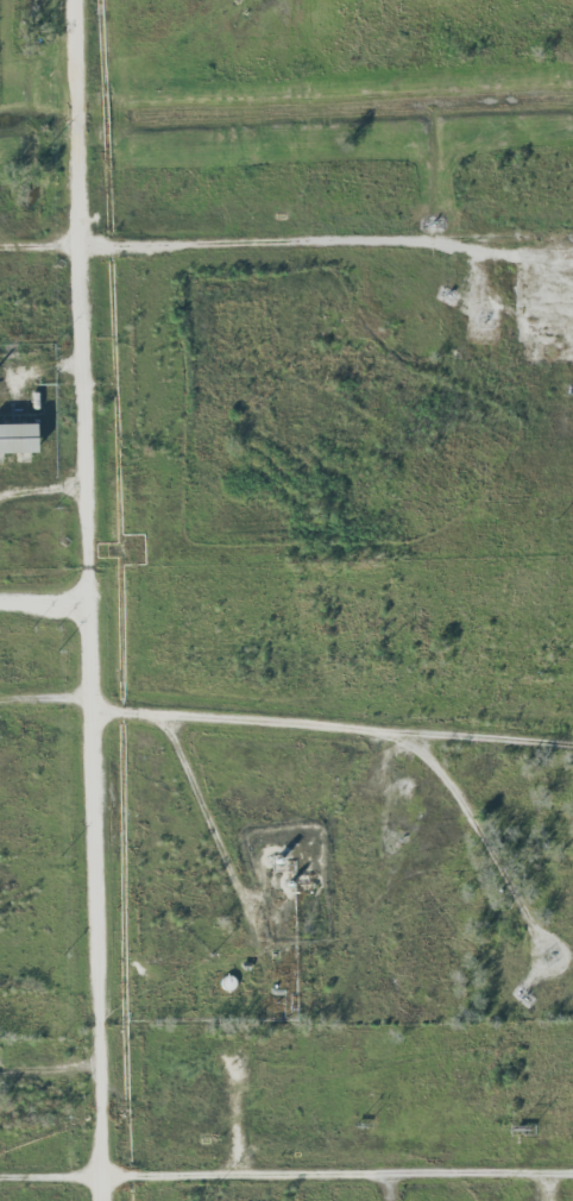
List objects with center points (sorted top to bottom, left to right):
road: (286, 252)
petroleum well: (569, 385)
building: (15, 438)
road: (97, 599)
road: (49, 608)
road: (286, 727)
road: (219, 826)
road: (490, 838)
road: (286, 1180)

